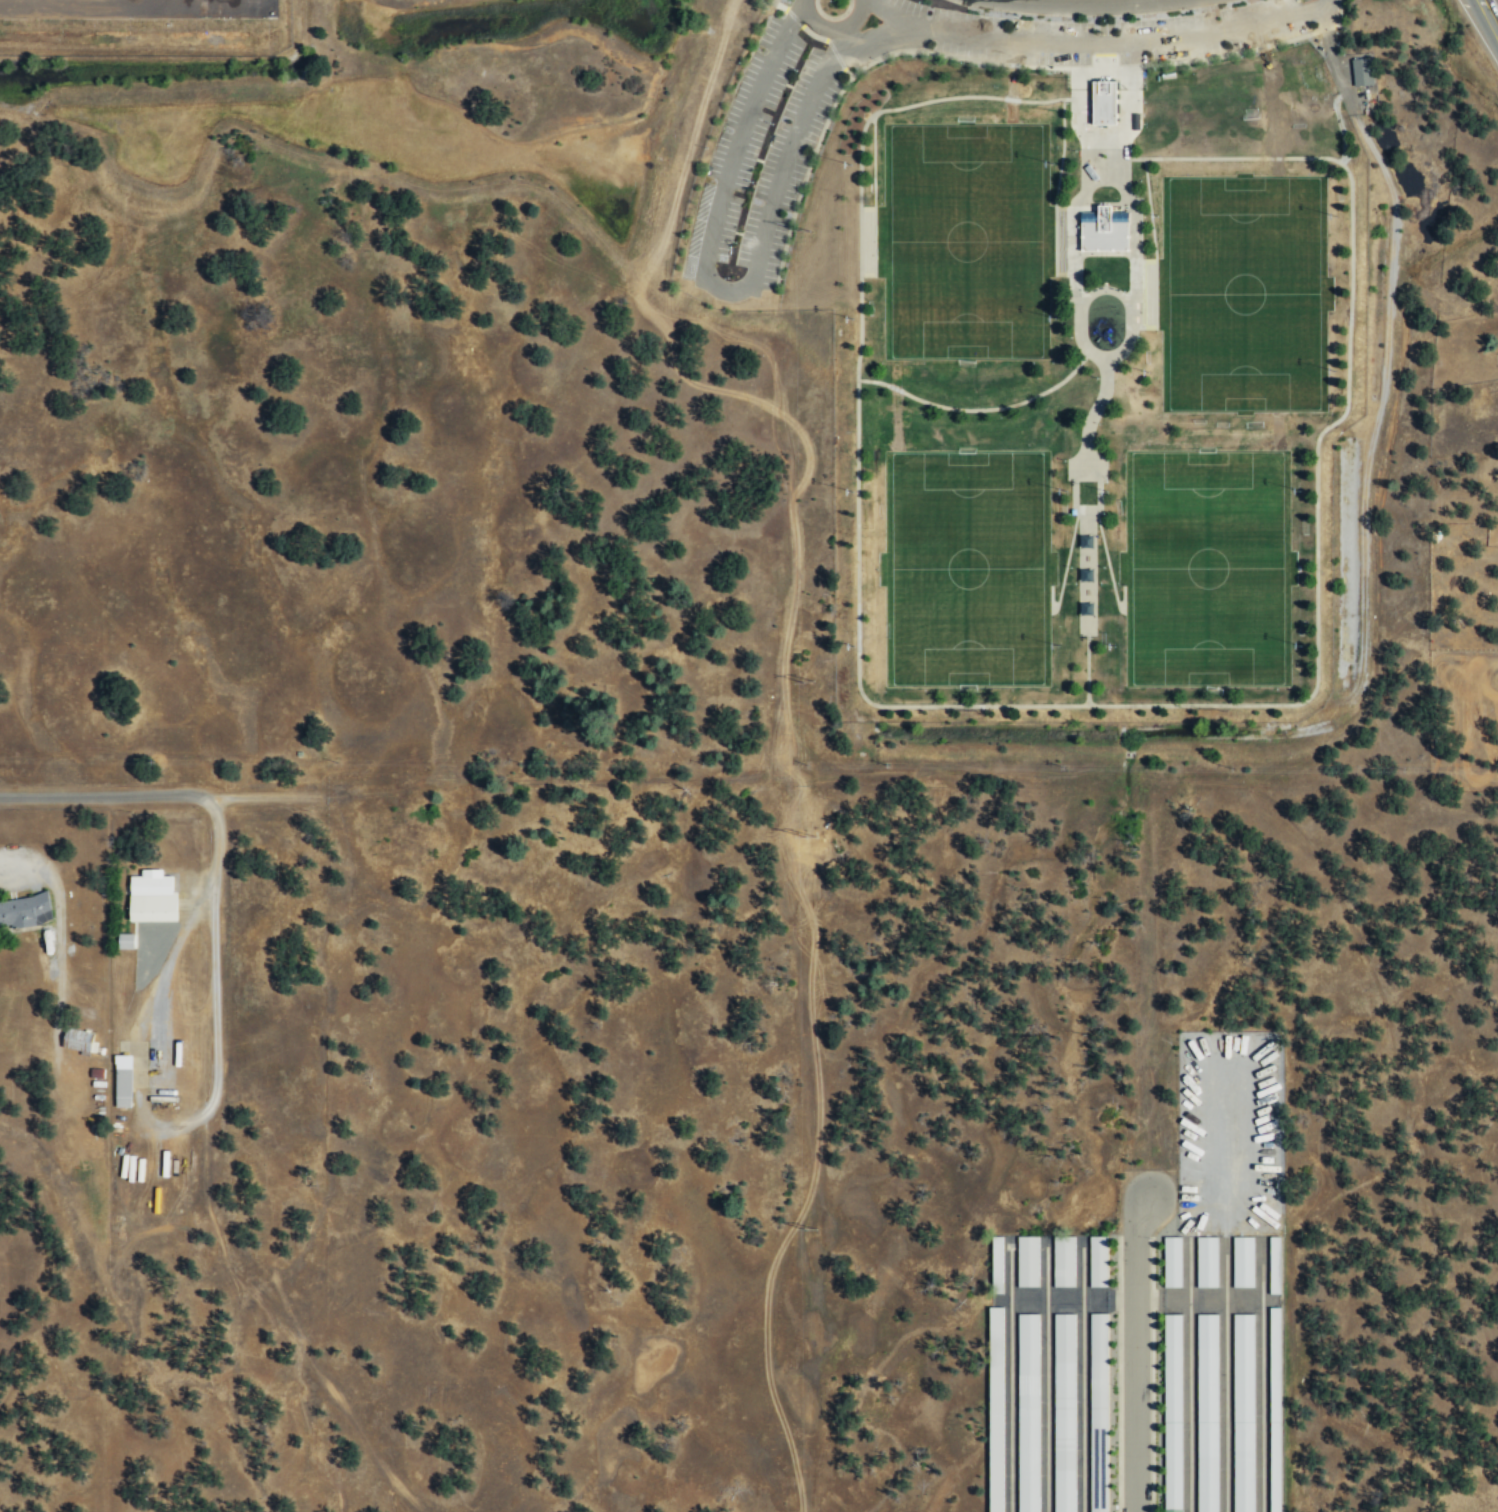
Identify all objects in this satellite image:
road: (773, 1)
road: (1084, 4)
road: (779, 5)
road: (1339, 14)
road: (794, 16)
road: (1489, 16)
road: (1326, 27)
road: (833, 30)
road: (814, 34)
road: (846, 38)
road: (1096, 43)
road: (836, 54)
road: (958, 57)
road: (1196, 58)
building: (1362, 71)
road: (848, 72)
road: (1067, 98)
building: (1104, 102)
road: (1101, 132)
road: (1104, 155)
parking lot: (759, 158)
road: (1123, 158)
road: (874, 168)
road: (803, 179)
road: (1104, 202)
road: (1064, 207)
road: (1135, 228)
road: (1073, 229)
power tower: (807, 230)
building: (1104, 230)
road: (860, 232)
park: (967, 242)
road: (1104, 254)
road: (1064, 274)
road: (747, 283)
park: (1243, 294)
road: (1146, 296)
road: (1077, 299)
road: (1132, 299)
road: (1128, 339)
road: (980, 409)
road: (1316, 457)
road: (1091, 469)
building: (1086, 541)
road: (1064, 567)
road: (1108, 567)
park: (1207, 568)
park: (969, 569)
road: (1087, 627)
road: (1087, 666)
power tower: (811, 680)
road: (56, 796)
power tower: (812, 831)
building: (152, 897)
building: (24, 910)
building: (125, 940)
building: (78, 1039)
building: (122, 1087)
power tower: (813, 1229)
building: (1063, 1260)
building: (1027, 1261)
building: (1098, 1261)
building: (1206, 1261)
building: (1243, 1261)
building: (1172, 1262)
building: (997, 1263)
building: (1274, 1265)
building: (1274, 1409)
building: (1028, 1412)
building: (1063, 1412)
building: (1098, 1412)
building: (1243, 1412)
building: (1172, 1413)
building: (1207, 1413)

